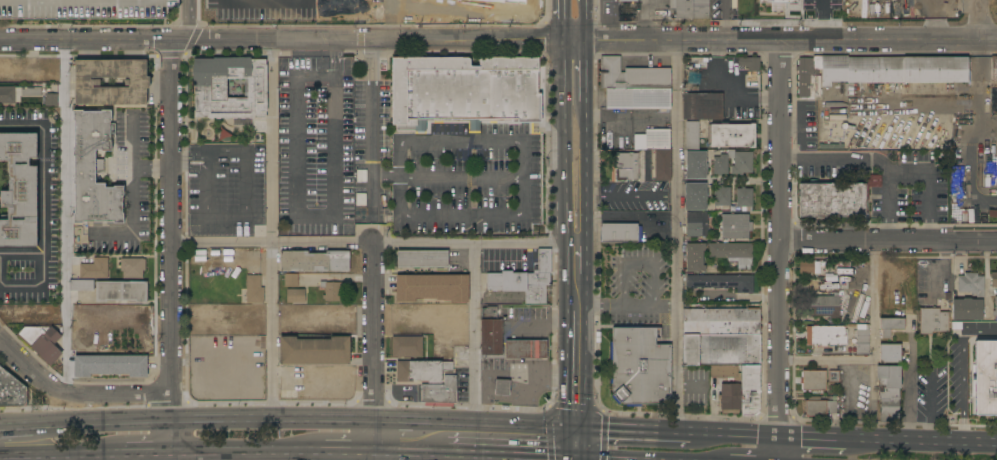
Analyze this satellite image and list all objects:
road: (80, 0)
building: (627, 0)
road: (350, 1)
road: (354, 3)
building: (483, 3)
building: (778, 4)
building: (690, 8)
building: (86, 9)
parking lot: (86, 9)
parking lot: (351, 10)
road: (587, 19)
road: (822, 19)
road: (981, 19)
road: (188, 20)
road: (563, 20)
road: (725, 20)
road: (575, 39)
road: (791, 39)
road: (281, 41)
building: (749, 63)
building: (9, 69)
building: (994, 69)
building: (876, 71)
building: (33, 74)
building: (694, 75)
building: (631, 76)
road: (586, 78)
building: (136, 82)
road: (978, 89)
building: (210, 90)
building: (464, 91)
building: (16, 94)
building: (639, 99)
building: (51, 100)
building: (702, 106)
road: (372, 108)
building: (692, 136)
building: (731, 136)
building: (652, 140)
road: (444, 141)
road: (562, 142)
parking lot: (316, 148)
road: (64, 151)
road: (870, 163)
building: (743, 164)
building: (663, 165)
building: (696, 165)
building: (625, 167)
building: (93, 170)
road: (151, 170)
parking lot: (441, 171)
road: (386, 176)
road: (480, 176)
road: (243, 180)
road: (586, 180)
parking lot: (226, 181)
parking lot: (131, 187)
road: (927, 188)
building: (19, 191)
road: (130, 194)
parking lot: (634, 196)
building: (695, 196)
building: (721, 196)
road: (372, 197)
road: (632, 197)
building: (744, 197)
building: (832, 200)
road: (42, 206)
building: (976, 213)
building: (992, 214)
building: (964, 215)
road: (463, 217)
building: (970, 217)
road: (320, 220)
building: (696, 224)
building: (735, 226)
road: (270, 232)
building: (619, 232)
road: (677, 238)
road: (888, 240)
road: (221, 241)
road: (483, 244)
road: (322, 245)
road: (171, 247)
road: (779, 250)
building: (733, 253)
road: (21, 258)
building: (694, 258)
building: (422, 259)
building: (314, 261)
road: (640, 265)
building: (806, 267)
building: (132, 268)
building: (94, 269)
road: (576, 271)
building: (820, 271)
building: (838, 278)
building: (994, 279)
building: (291, 280)
building: (526, 280)
building: (722, 282)
building: (971, 284)
building: (81, 286)
building: (431, 288)
building: (254, 289)
building: (332, 290)
building: (121, 291)
building: (300, 296)
road: (740, 296)
road: (626, 304)
building: (825, 306)
building: (995, 307)
building: (966, 309)
building: (207, 314)
building: (720, 321)
building: (933, 321)
building: (890, 326)
road: (66, 329)
building: (828, 335)
road: (474, 336)
building: (491, 337)
building: (861, 340)
building: (41, 341)
road: (874, 341)
road: (910, 345)
building: (406, 347)
road: (372, 349)
building: (525, 349)
gas station: (525, 349)
building: (721, 350)
building: (313, 351)
building: (890, 353)
road: (827, 360)
building: (110, 365)
road: (578, 367)
building: (640, 367)
building: (421, 371)
building: (725, 372)
road: (962, 373)
building: (833, 376)
building: (986, 378)
building: (813, 380)
building: (502, 388)
gas station: (502, 388)
building: (750, 390)
building: (11, 391)
building: (440, 391)
building: (888, 392)
road: (74, 394)
building: (730, 398)
building: (439, 404)
building: (814, 407)
building: (832, 408)
road: (215, 424)
road: (393, 425)
road: (30, 427)
road: (496, 429)
traffic signals: (579, 432)
road: (641, 435)
road: (741, 439)
road: (827, 442)
road: (579, 445)
road: (936, 445)
road: (348, 451)
road: (249, 452)
road: (125, 453)
road: (408, 453)
road: (58, 454)
road: (19, 455)
road: (462, 455)
road: (257, 456)
road: (301, 456)
road: (39, 457)
road: (77, 457)
road: (529, 457)
road: (480, 458)
road: (578, 459)
traffic signals: (579, 459)
road: (589, 459)

